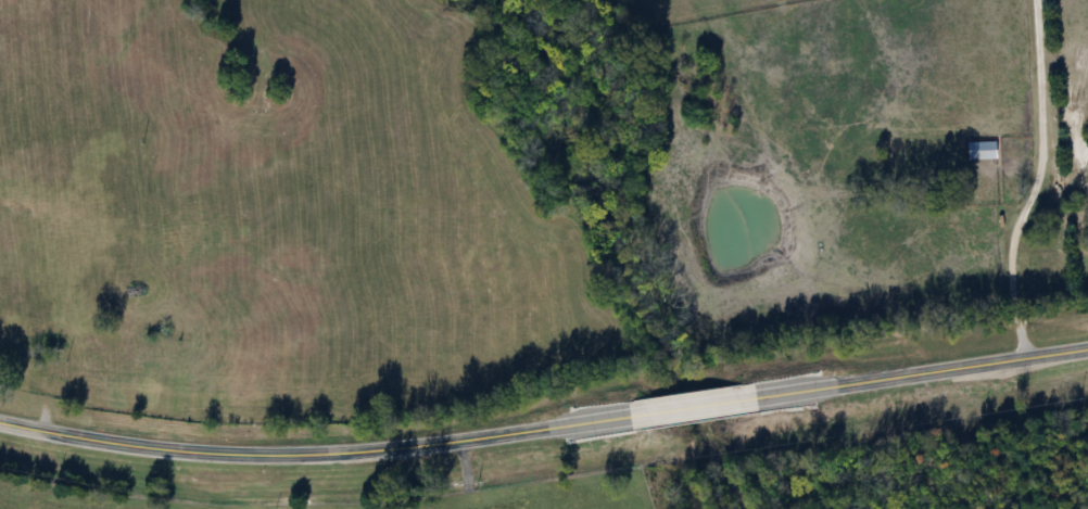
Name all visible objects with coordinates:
building: (979, 149)
road: (1030, 181)
road: (544, 427)

